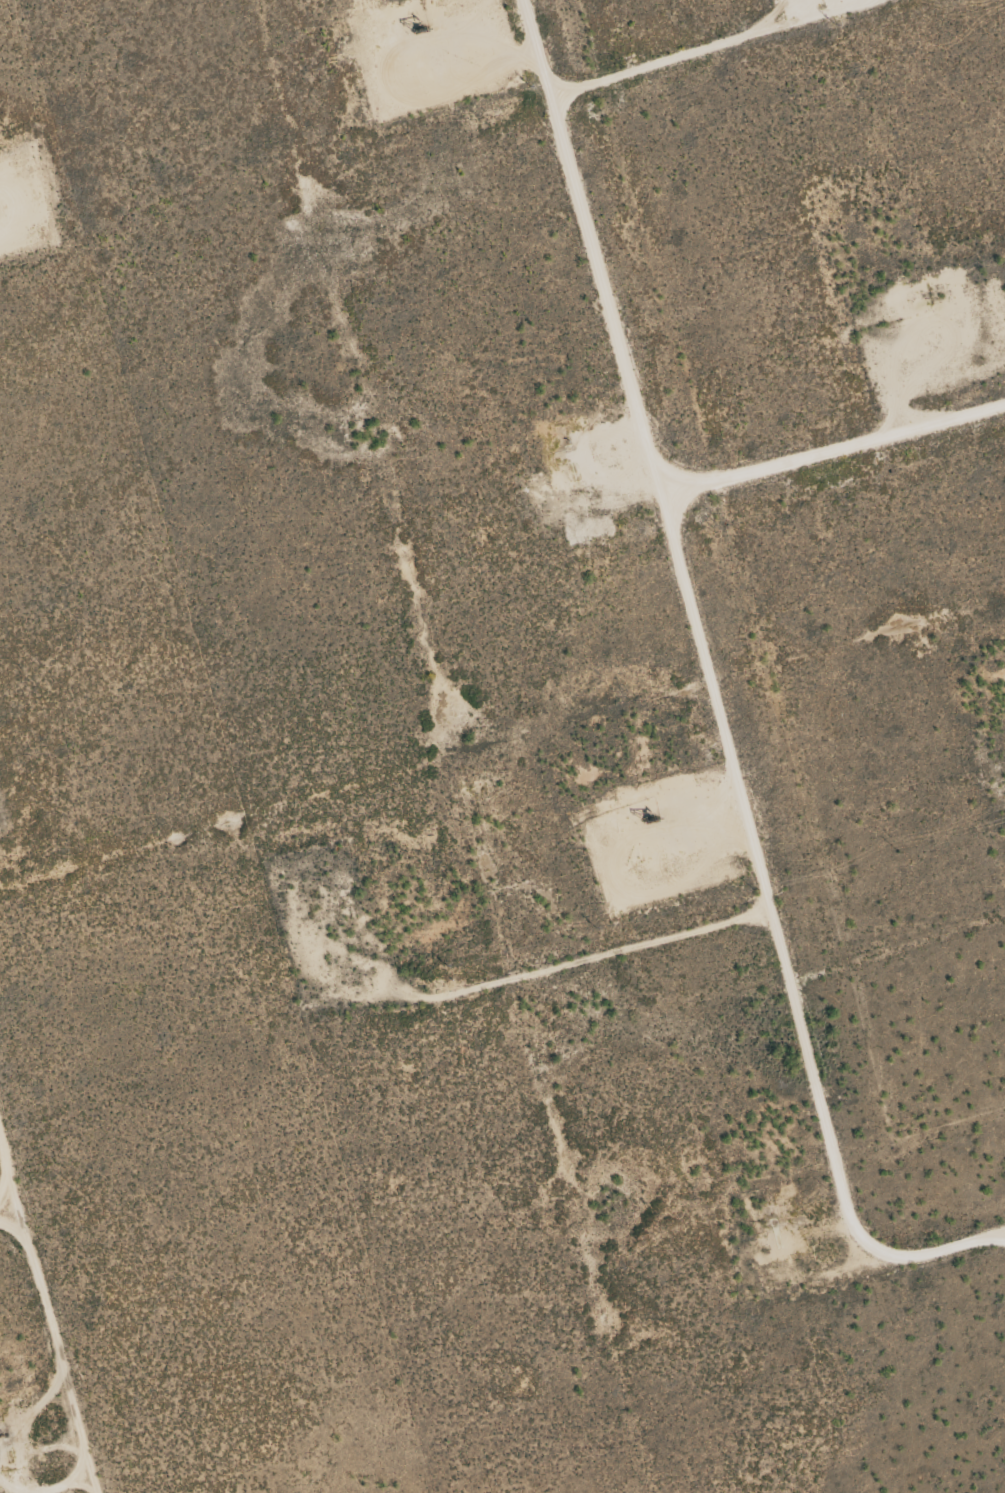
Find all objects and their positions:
road: (832, 453)
road: (709, 693)
road: (6, 1206)
road: (54, 1326)

